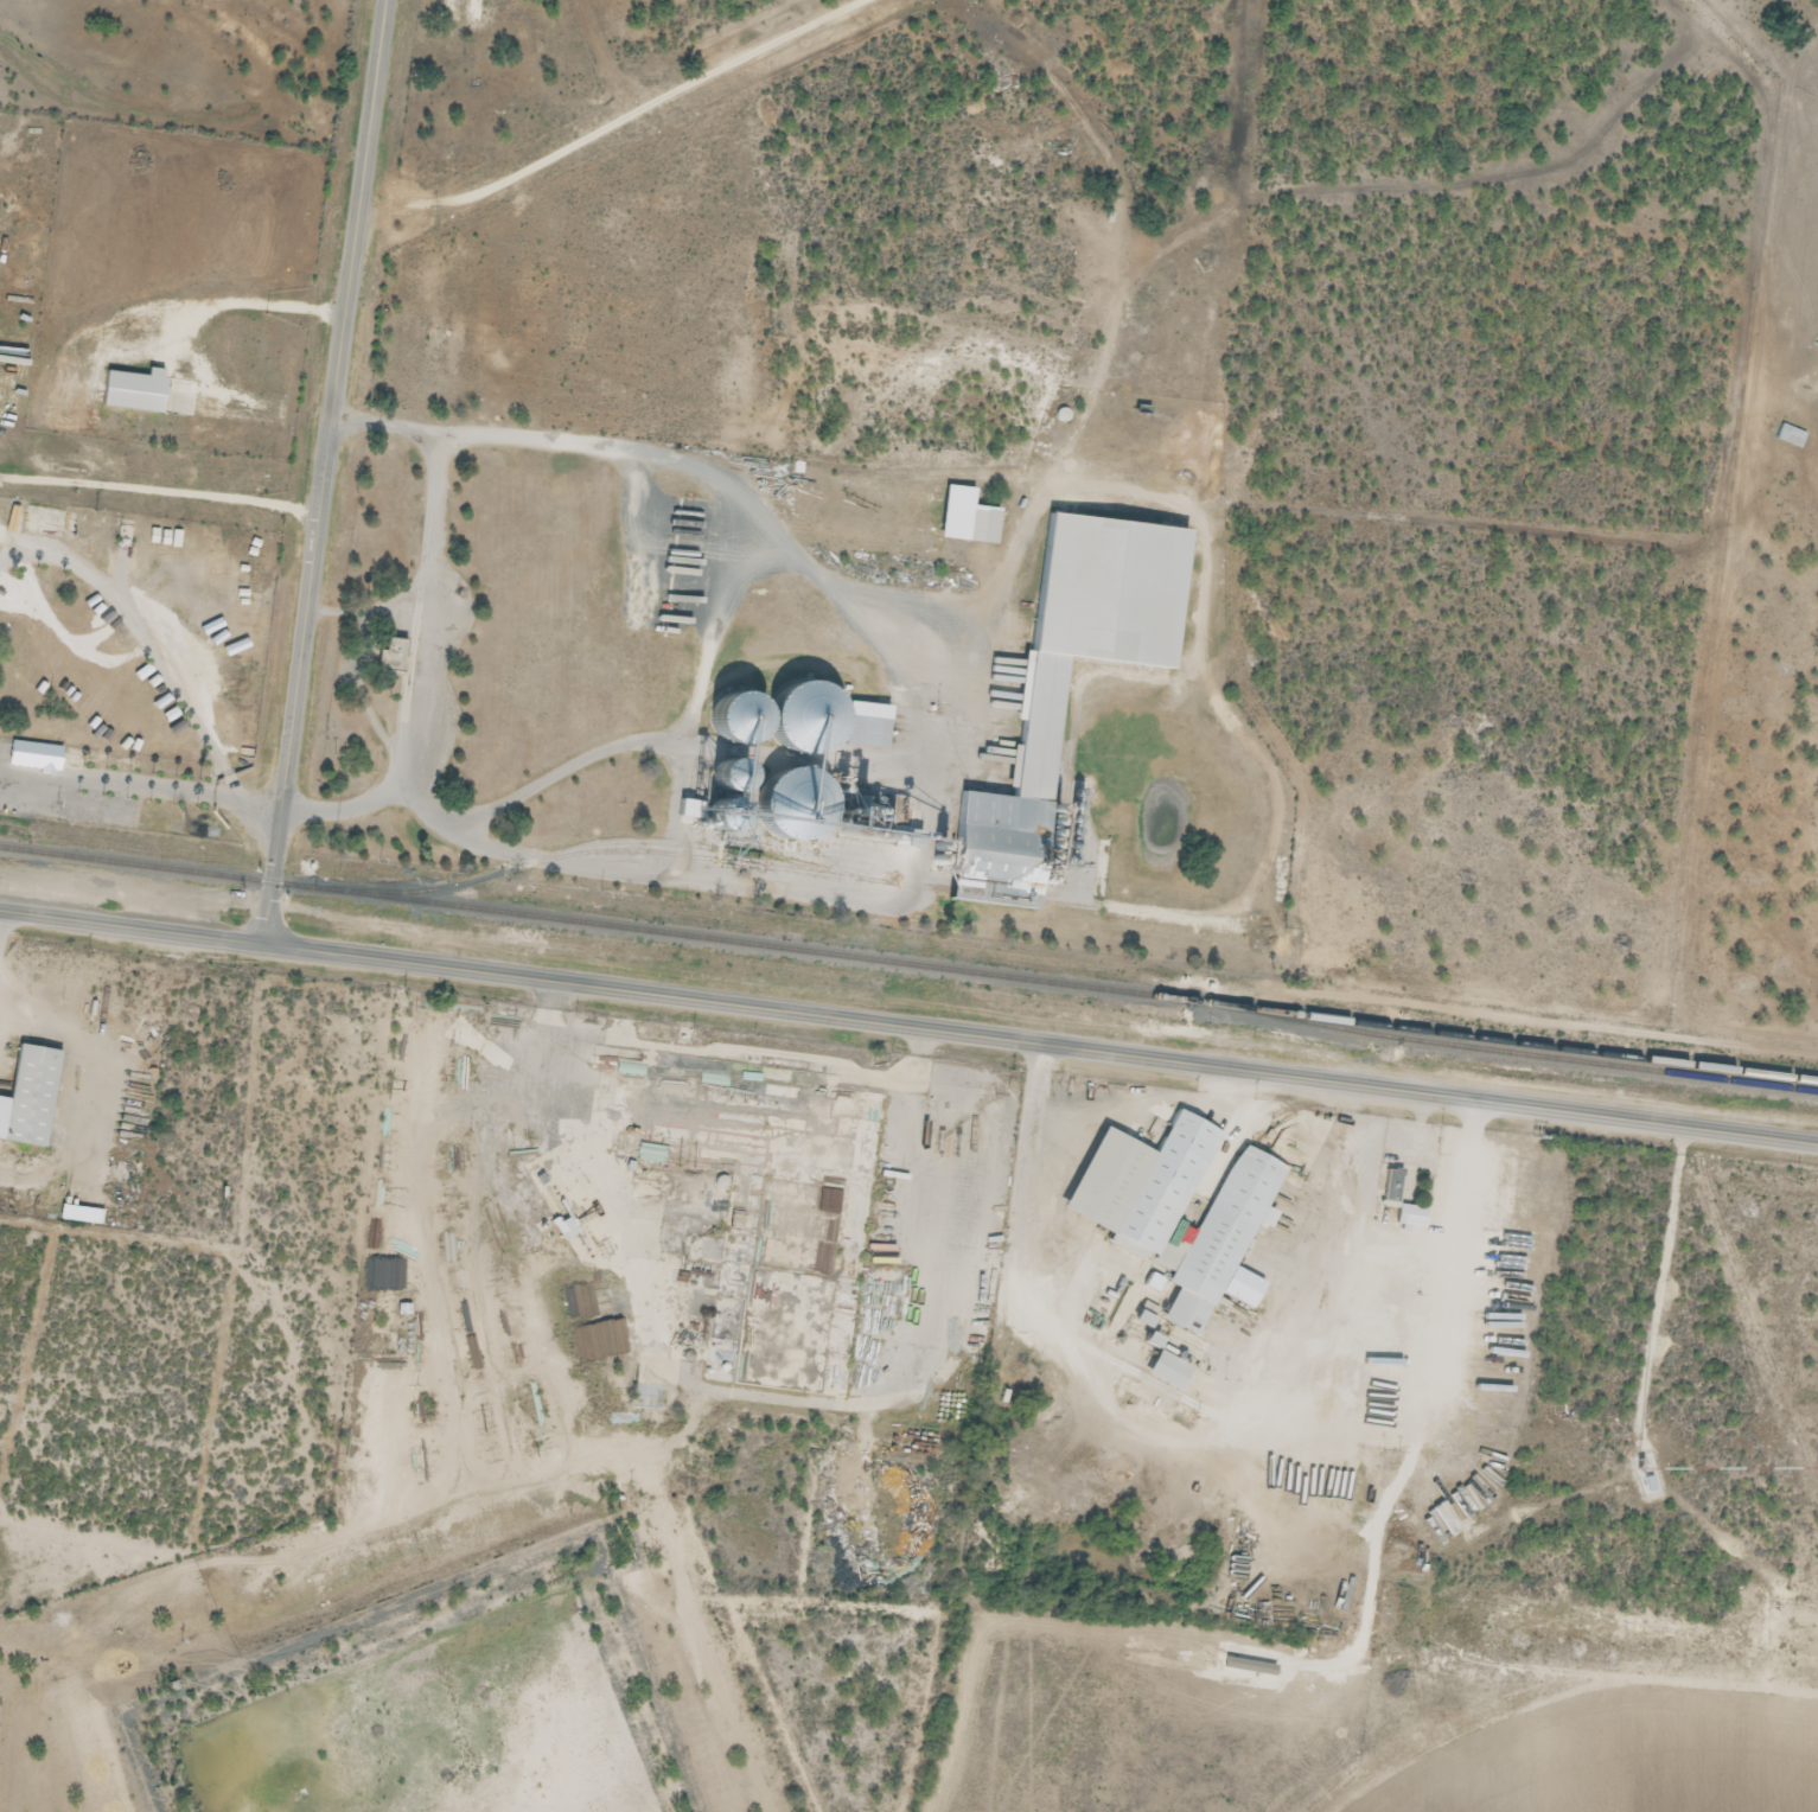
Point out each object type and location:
road: (620, 126)
building: (138, 390)
building: (1786, 436)
road: (321, 472)
building: (49, 522)
building: (985, 525)
road: (4, 557)
road: (155, 665)
building: (833, 714)
silo: (833, 714)
building: (768, 715)
silo: (768, 715)
building: (1055, 738)
building: (763, 772)
silo: (763, 772)
building: (736, 777)
road: (121, 783)
building: (822, 800)
silo: (822, 800)
building: (719, 814)
railway: (908, 963)
road: (908, 1025)
railway: (1506, 1051)
building: (34, 1095)
building: (1395, 1186)
building: (1176, 1207)
building: (1173, 1371)

